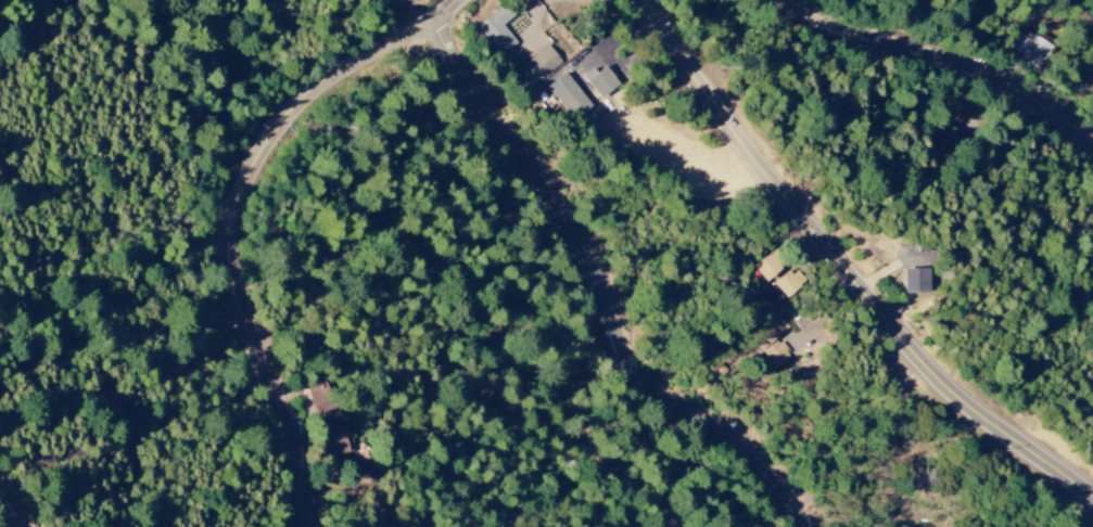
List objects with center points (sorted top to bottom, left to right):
park: (1090, 3)
road: (395, 18)
building: (496, 29)
building: (1029, 50)
road: (948, 61)
building: (533, 66)
building: (601, 82)
building: (568, 97)
road: (241, 220)
road: (847, 262)
building: (767, 267)
building: (918, 281)
building: (788, 283)
road: (606, 288)
building: (321, 395)
building: (334, 440)
road: (22, 496)

